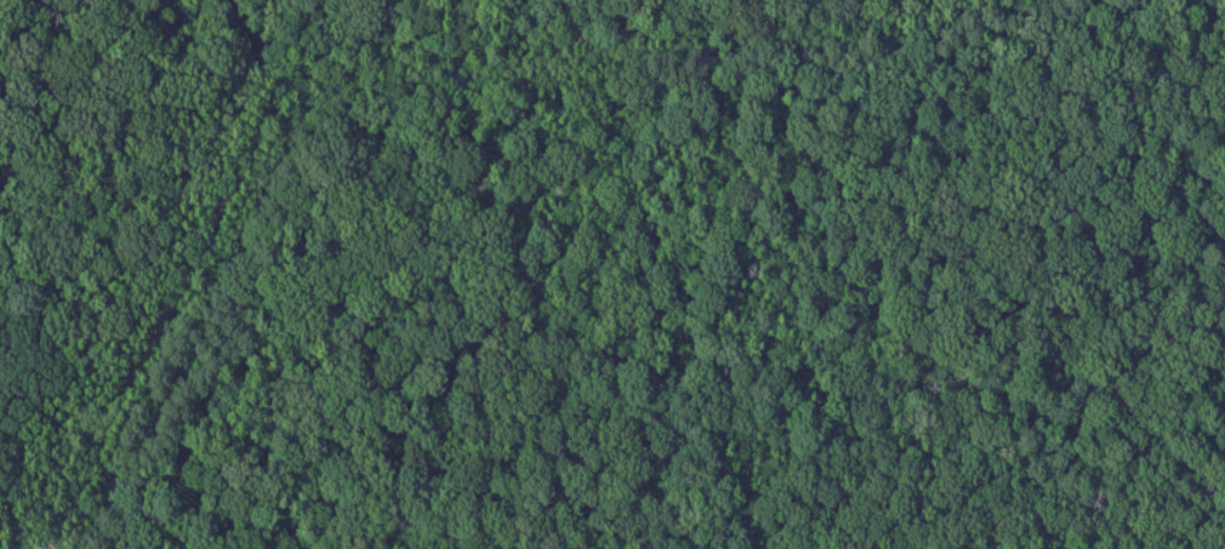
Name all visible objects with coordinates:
road: (358, 68)

